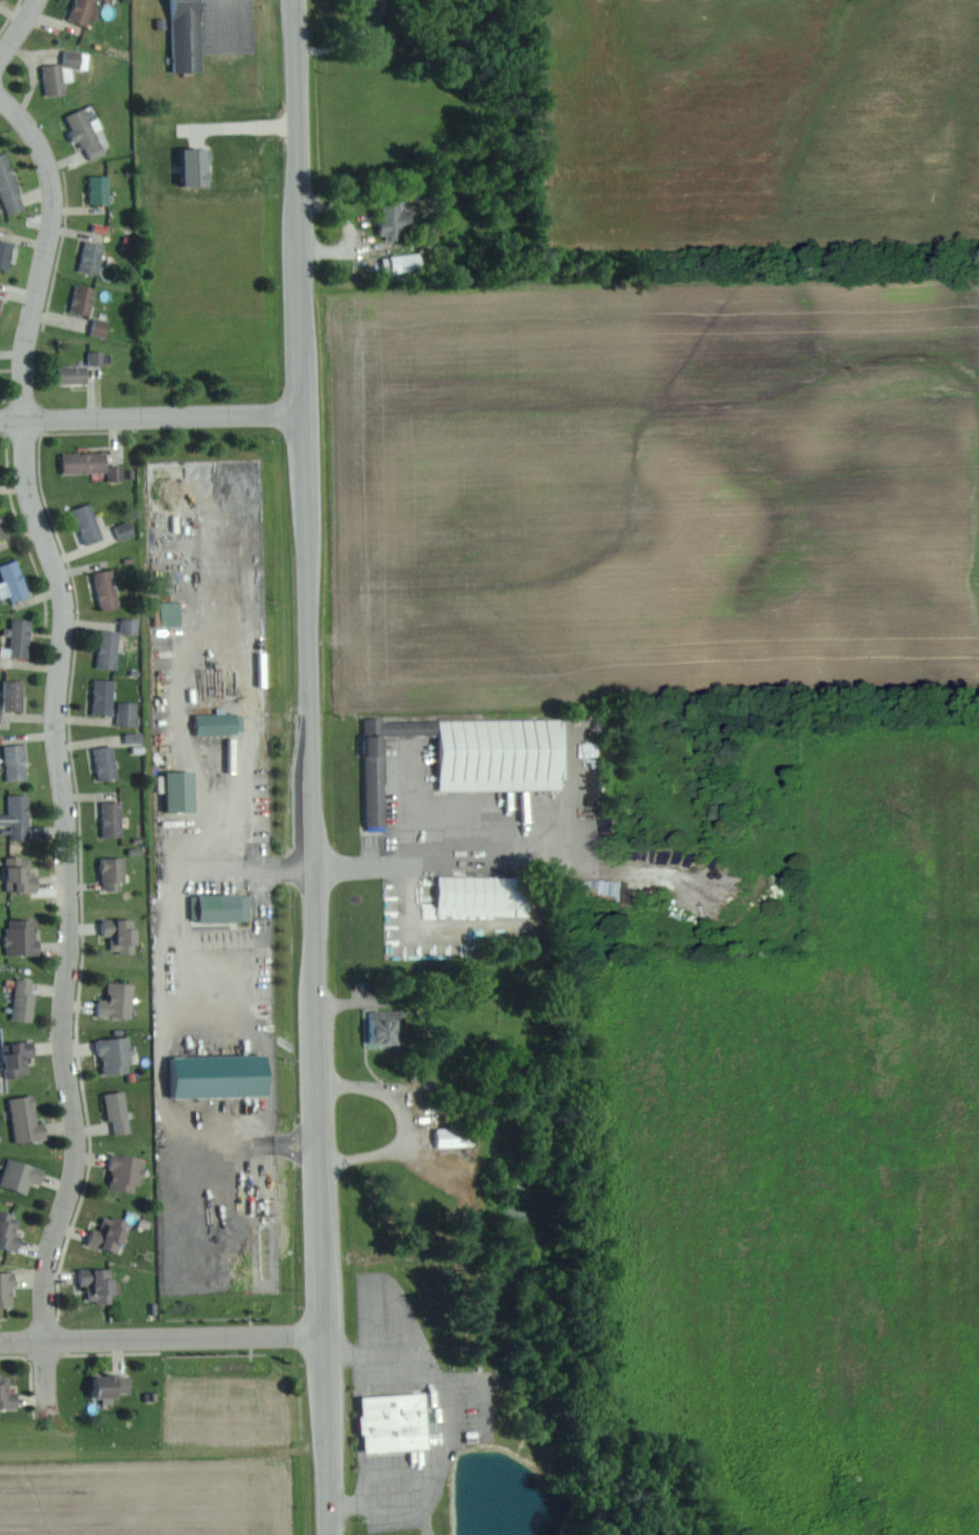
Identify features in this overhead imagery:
building: (377, 6)
building: (85, 11)
road: (19, 30)
building: (190, 35)
building: (89, 133)
building: (199, 166)
building: (102, 189)
building: (399, 219)
building: (7, 254)
building: (94, 257)
building: (410, 262)
building: (390, 263)
building: (86, 299)
building: (1, 308)
building: (103, 327)
building: (99, 358)
building: (77, 374)
road: (153, 416)
building: (88, 462)
building: (119, 472)
building: (90, 523)
building: (3, 526)
building: (128, 530)
building: (15, 581)
building: (109, 589)
building: (132, 626)
building: (24, 638)
building: (110, 649)
building: (4, 655)
building: (17, 695)
building: (106, 696)
building: (129, 713)
building: (2, 714)
building: (220, 723)
building: (137, 737)
road: (63, 743)
building: (475, 756)
building: (19, 762)
building: (109, 762)
road: (315, 767)
building: (184, 791)
building: (23, 818)
building: (115, 819)
building: (116, 872)
building: (24, 874)
building: (487, 895)
building: (224, 906)
building: (123, 933)
building: (25, 935)
building: (26, 999)
building: (120, 1000)
park: (832, 1022)
building: (390, 1025)
building: (118, 1054)
building: (22, 1058)
building: (222, 1075)
building: (121, 1110)
building: (29, 1118)
road: (407, 1122)
building: (457, 1136)
building: (129, 1171)
building: (24, 1174)
building: (11, 1230)
building: (113, 1233)
building: (102, 1283)
building: (8, 1288)
road: (163, 1341)
building: (113, 1386)
building: (9, 1392)
building: (398, 1422)

